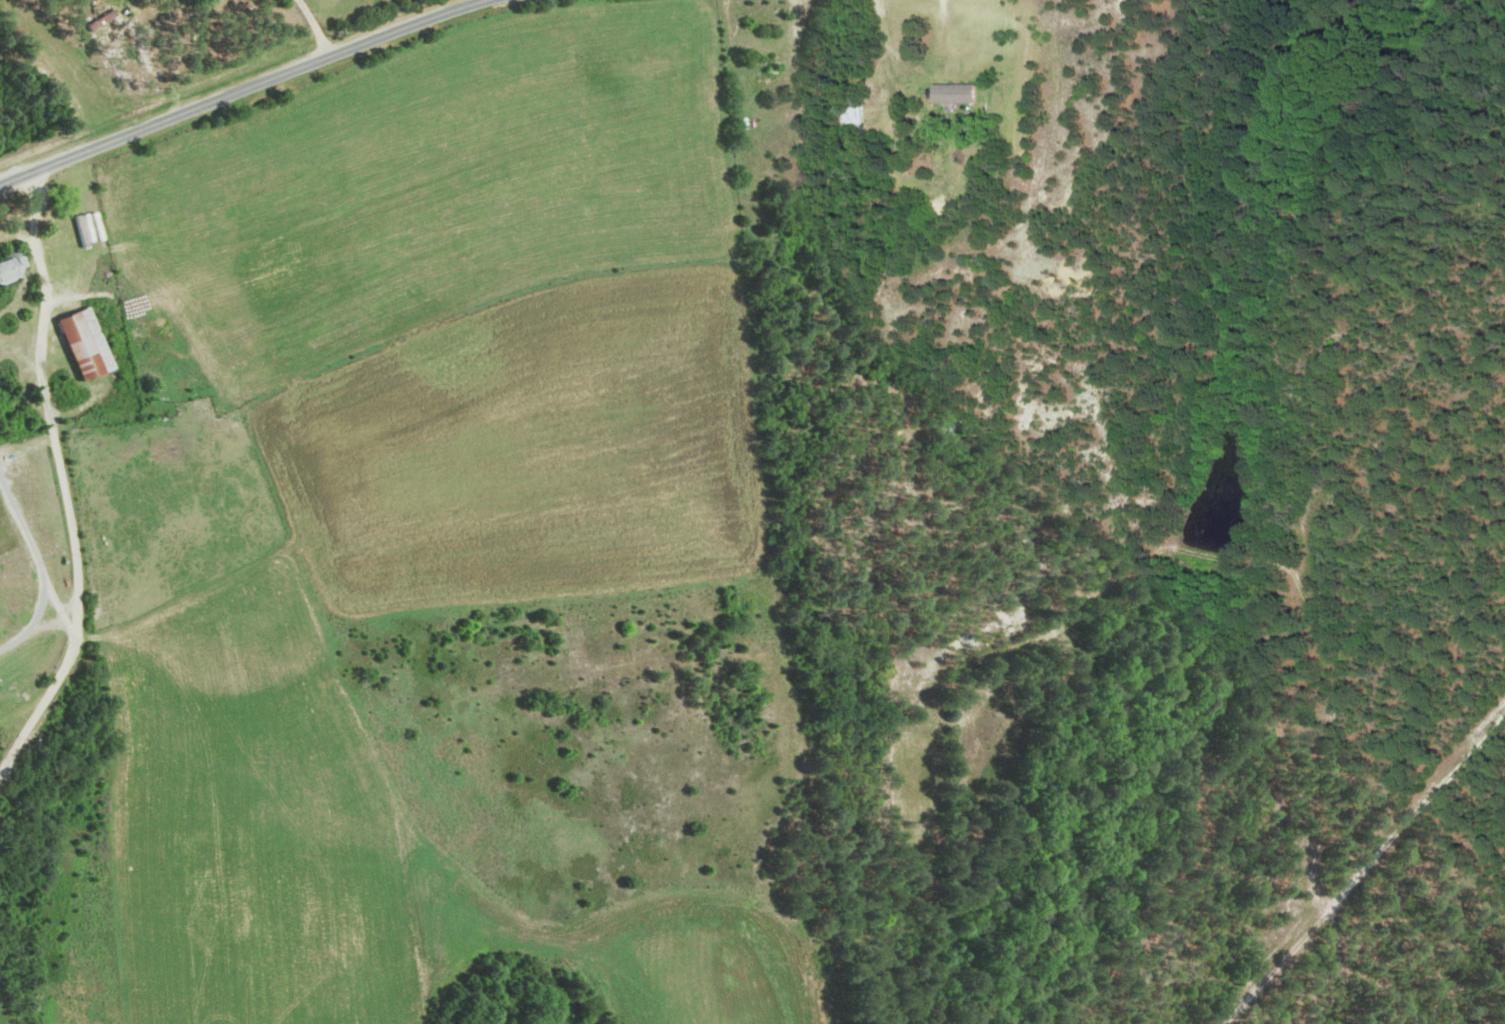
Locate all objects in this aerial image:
road: (243, 89)
building: (955, 92)
building: (10, 266)
building: (82, 343)

